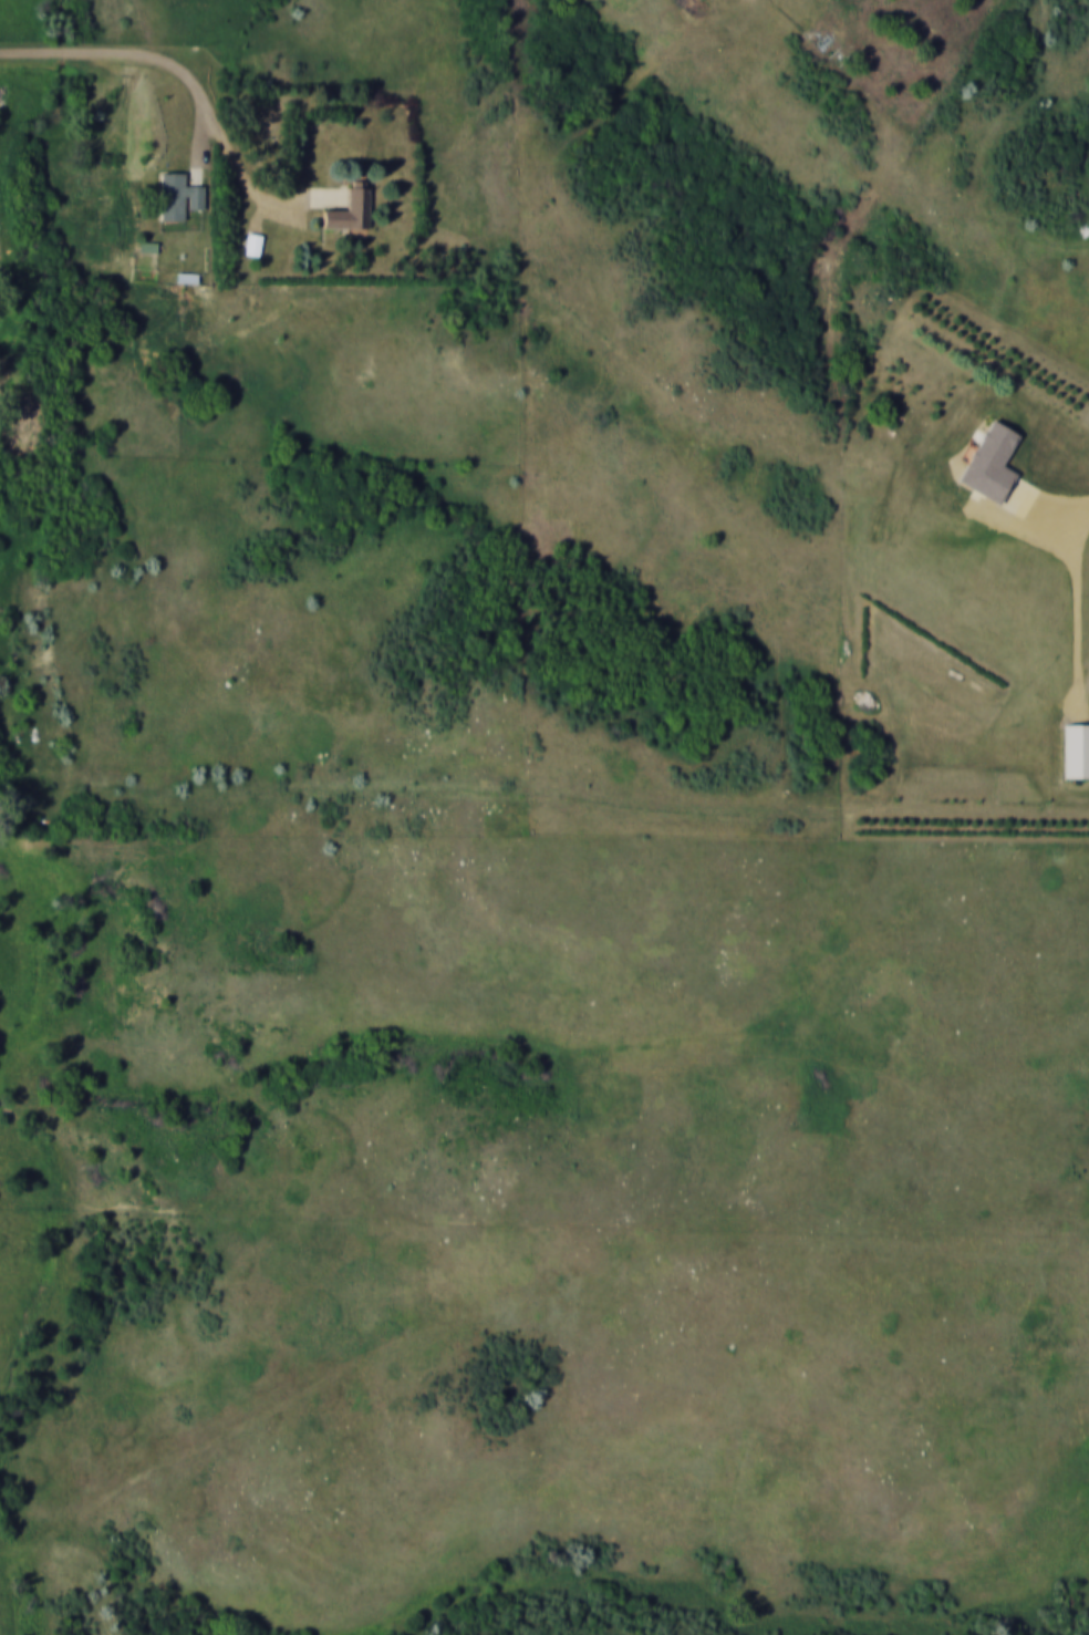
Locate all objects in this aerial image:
road: (186, 79)
building: (179, 198)
building: (350, 213)
building: (253, 245)
building: (992, 461)
building: (1077, 749)

